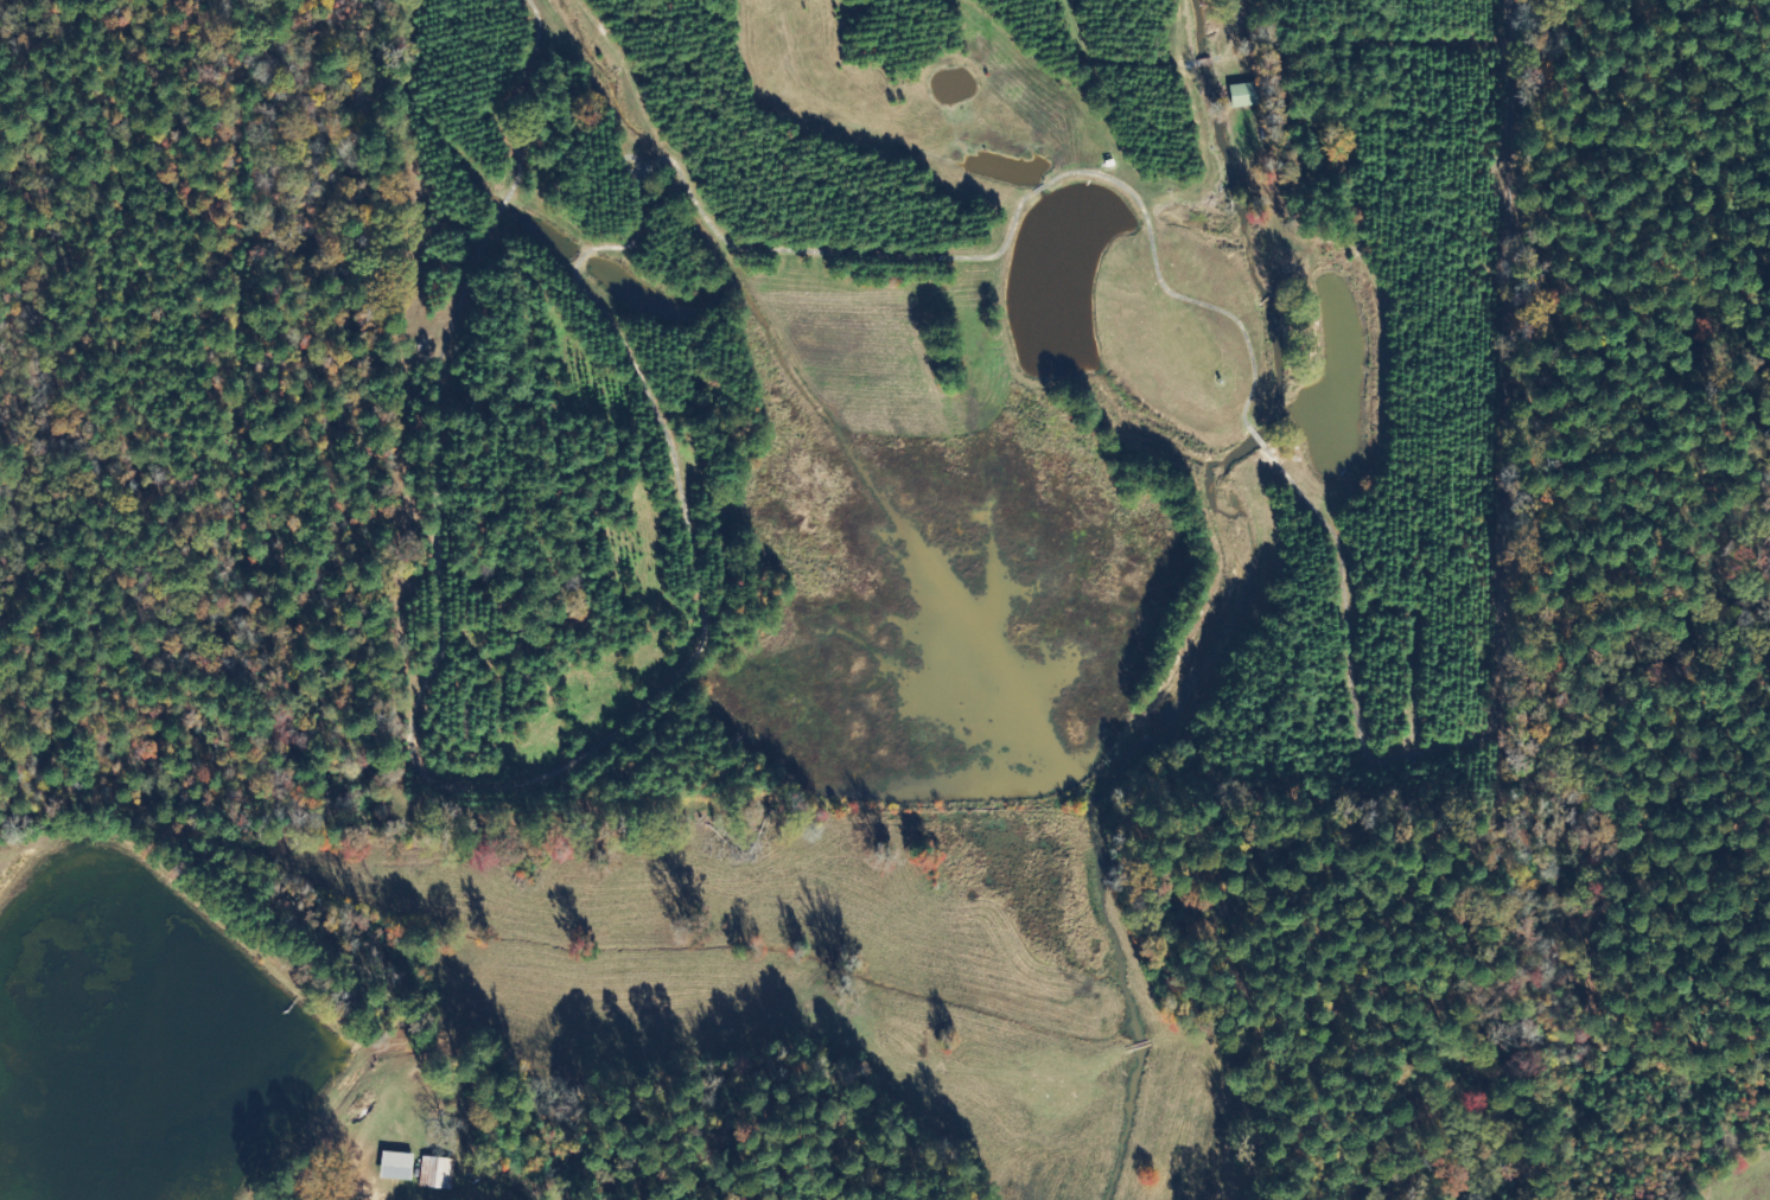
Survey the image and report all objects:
building: (1244, 96)
building: (397, 1166)

